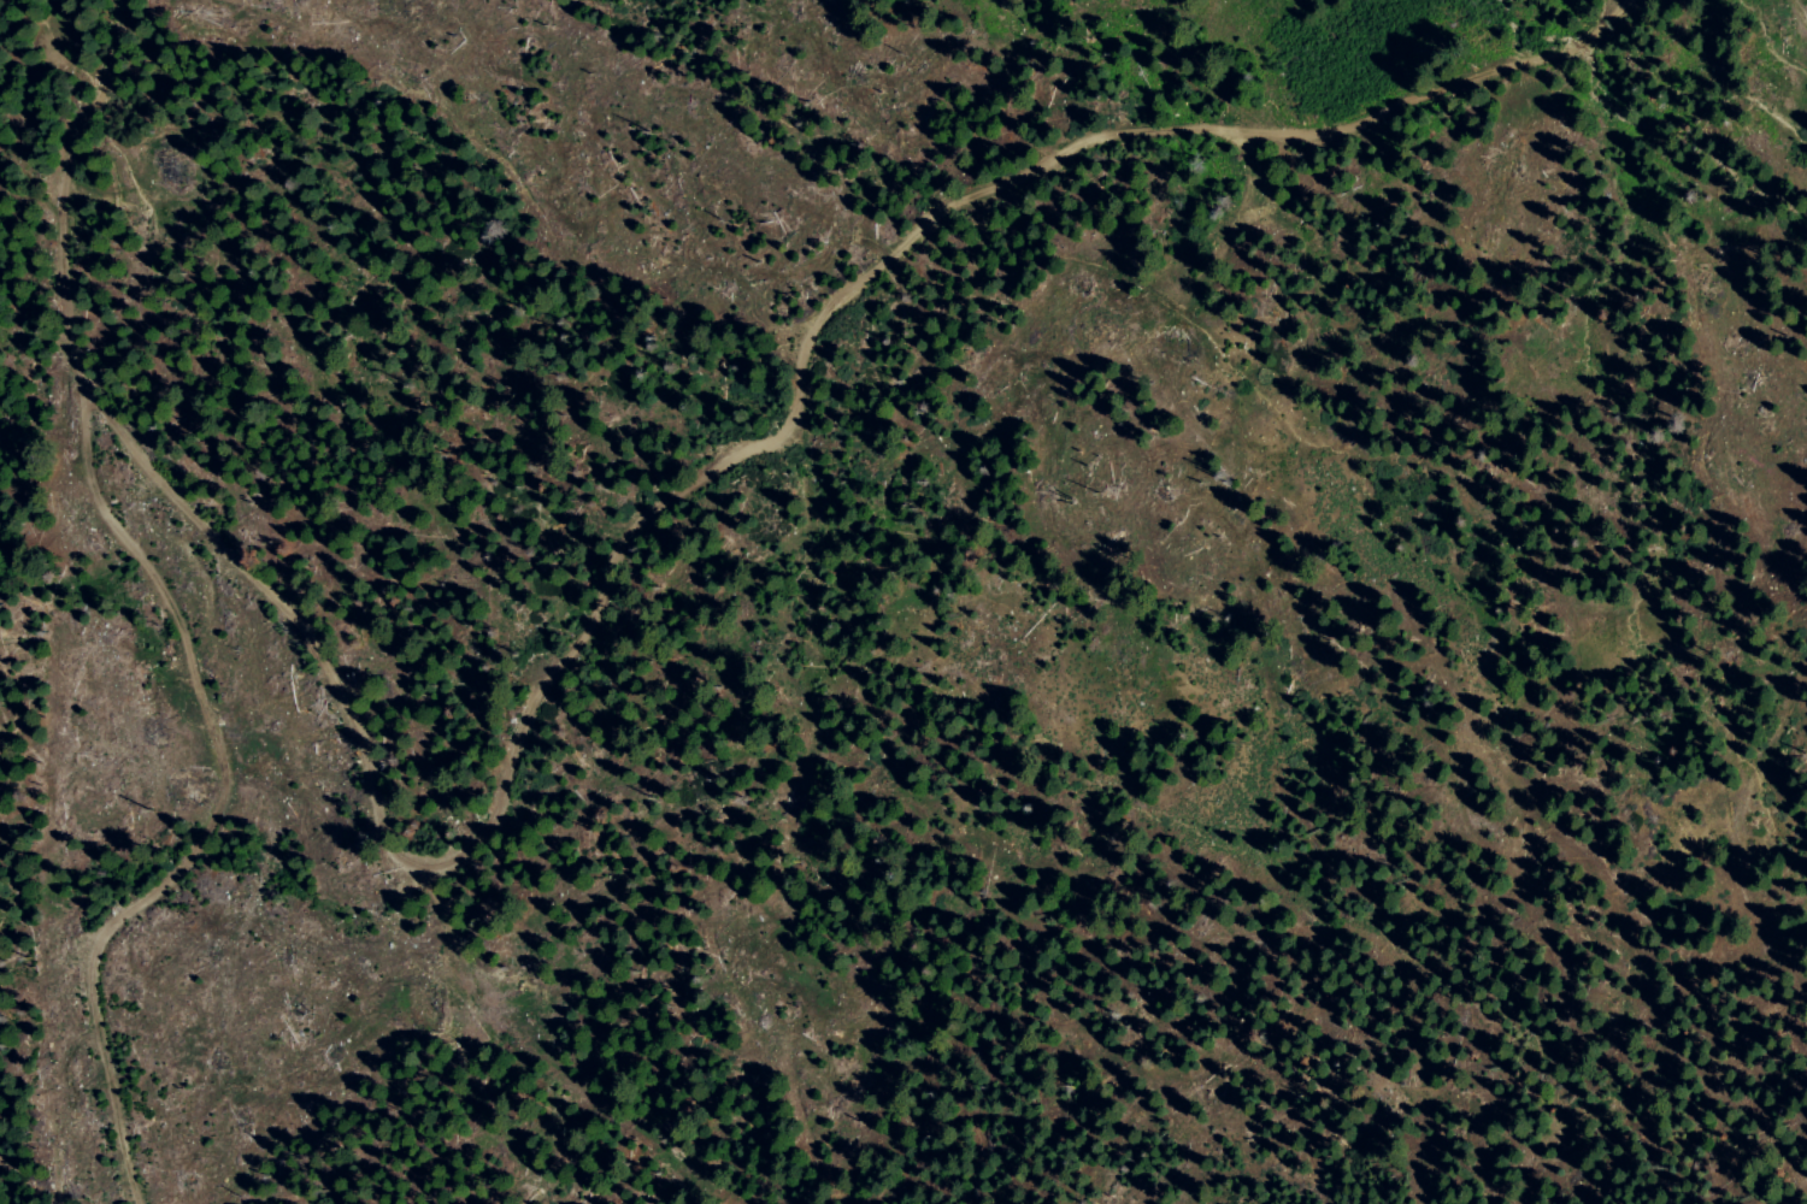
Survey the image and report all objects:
road: (1806, 0)
road: (1226, 256)
road: (696, 479)
road: (194, 618)

